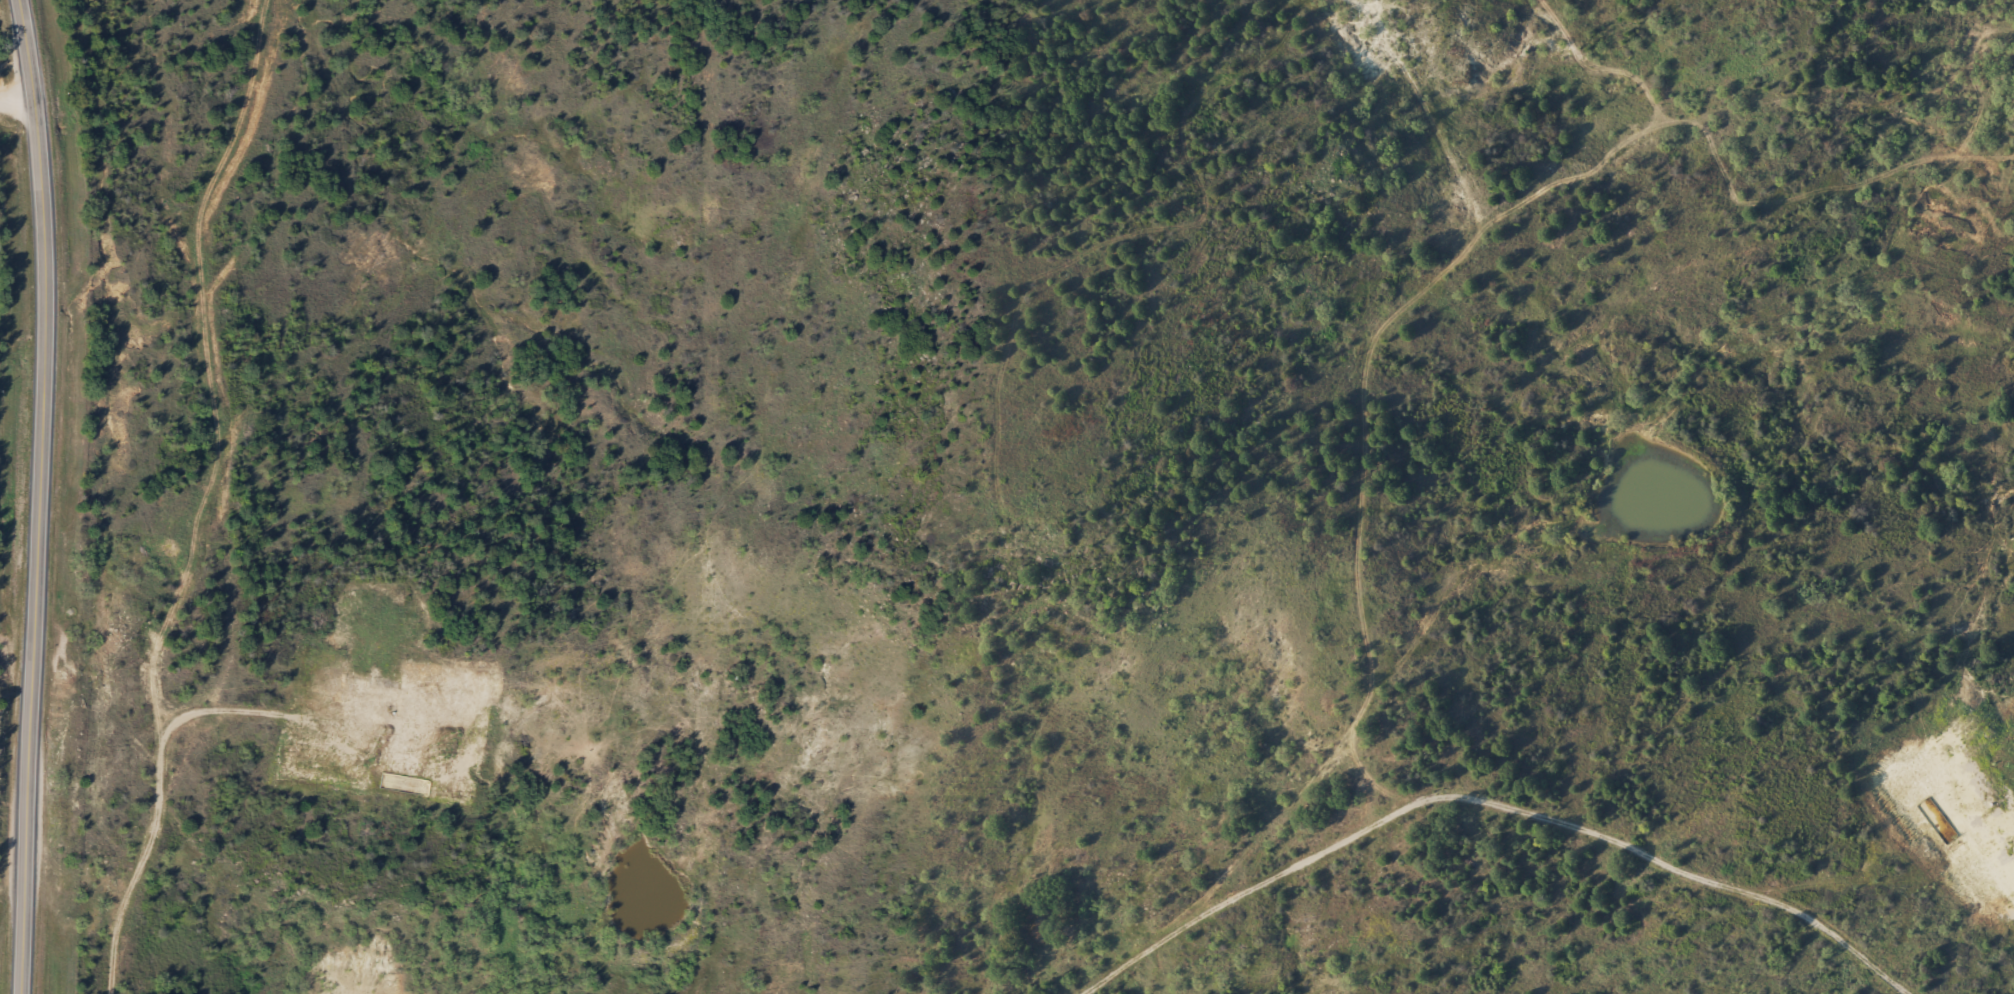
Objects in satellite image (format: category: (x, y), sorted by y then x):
road: (18, 96)
road: (1712, 247)
road: (35, 496)

